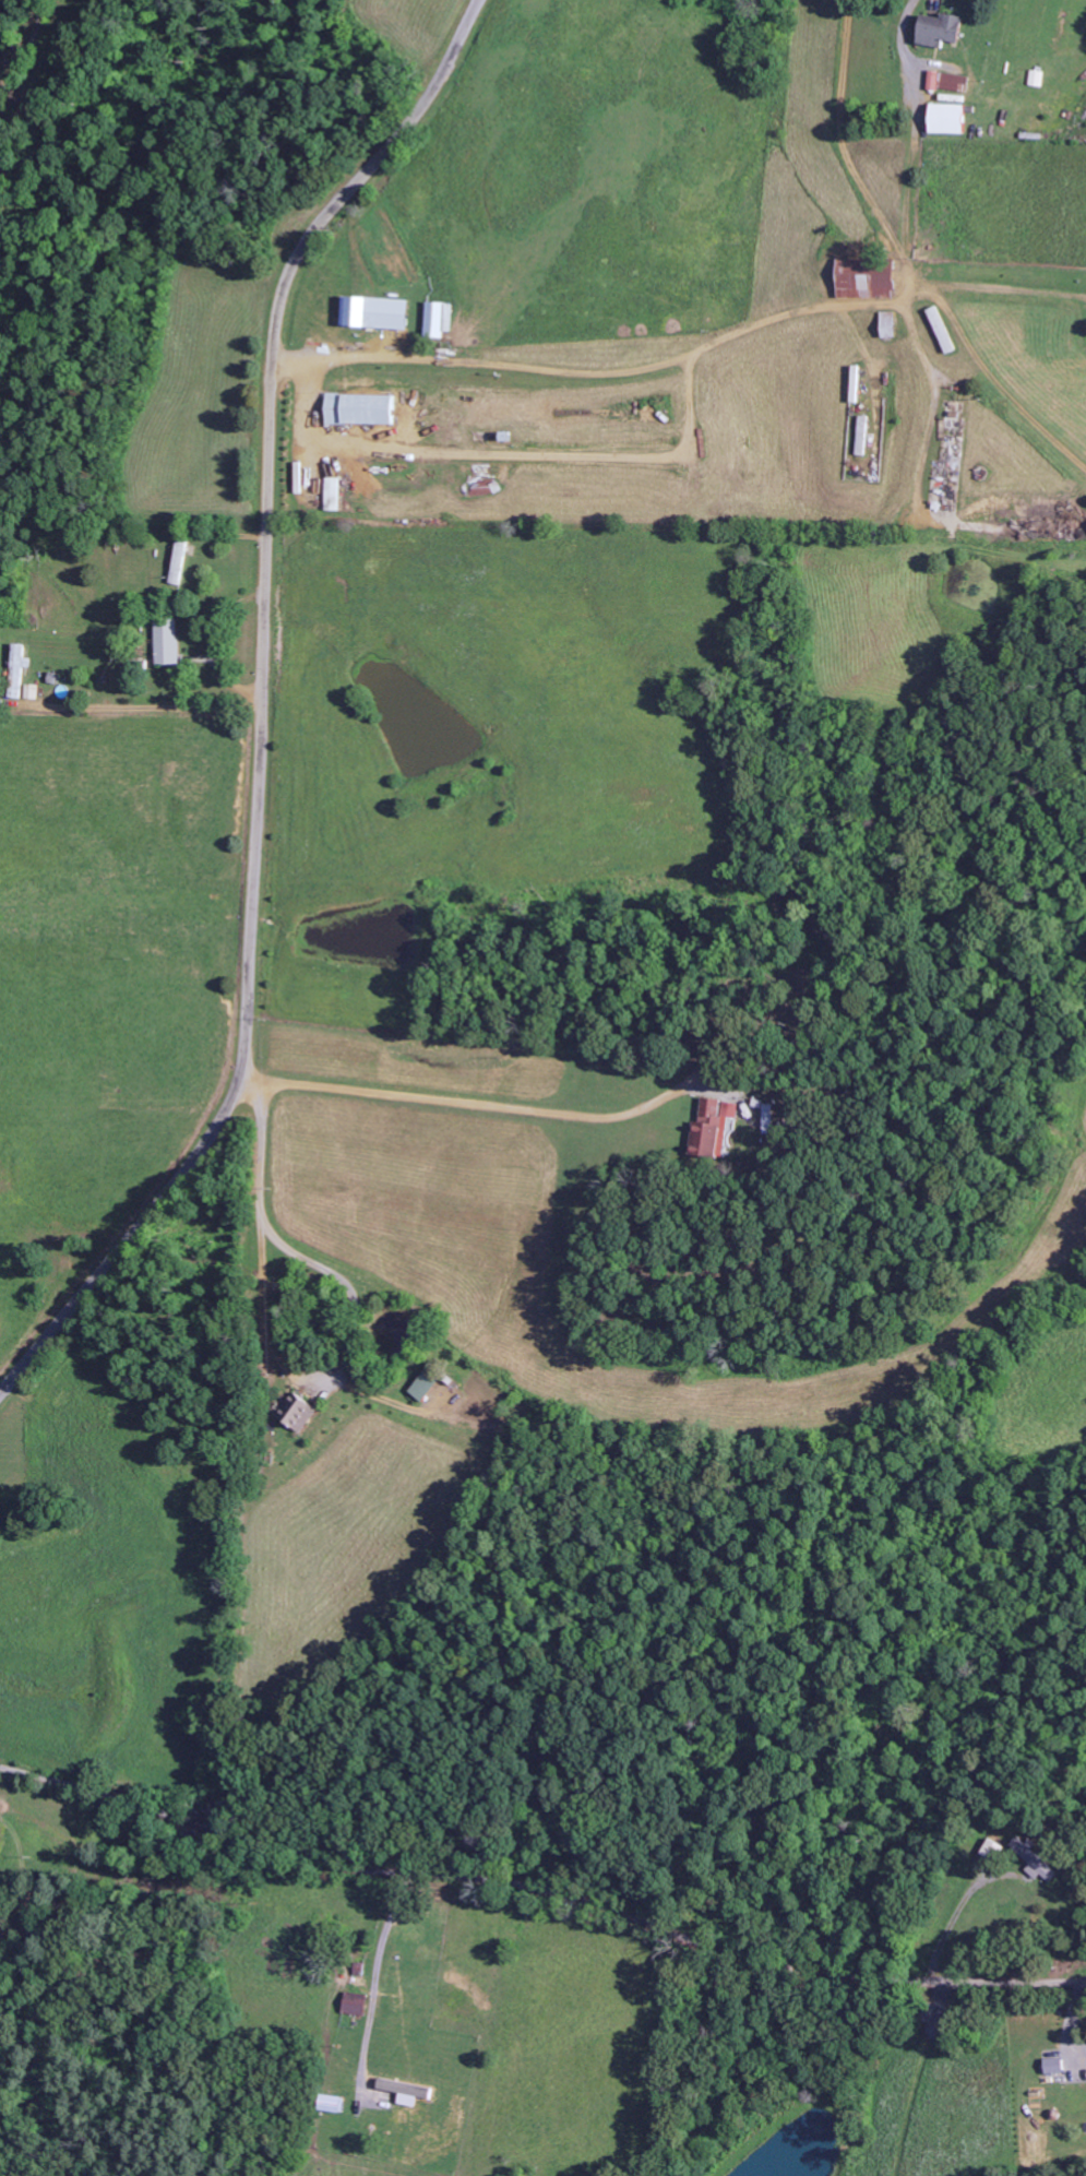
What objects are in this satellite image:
building: (938, 31)
building: (1034, 79)
building: (946, 82)
building: (945, 119)
building: (863, 280)
building: (373, 313)
building: (435, 320)
building: (886, 325)
building: (357, 409)
building: (331, 495)
building: (178, 563)
building: (166, 642)
building: (16, 671)
road: (262, 708)
building: (709, 1128)
building: (422, 1387)
building: (296, 1413)
building: (991, 1851)
building: (1033, 1859)
road: (540, 1888)
building: (354, 2005)
building: (1052, 2066)
building: (404, 2089)
building: (330, 2104)

